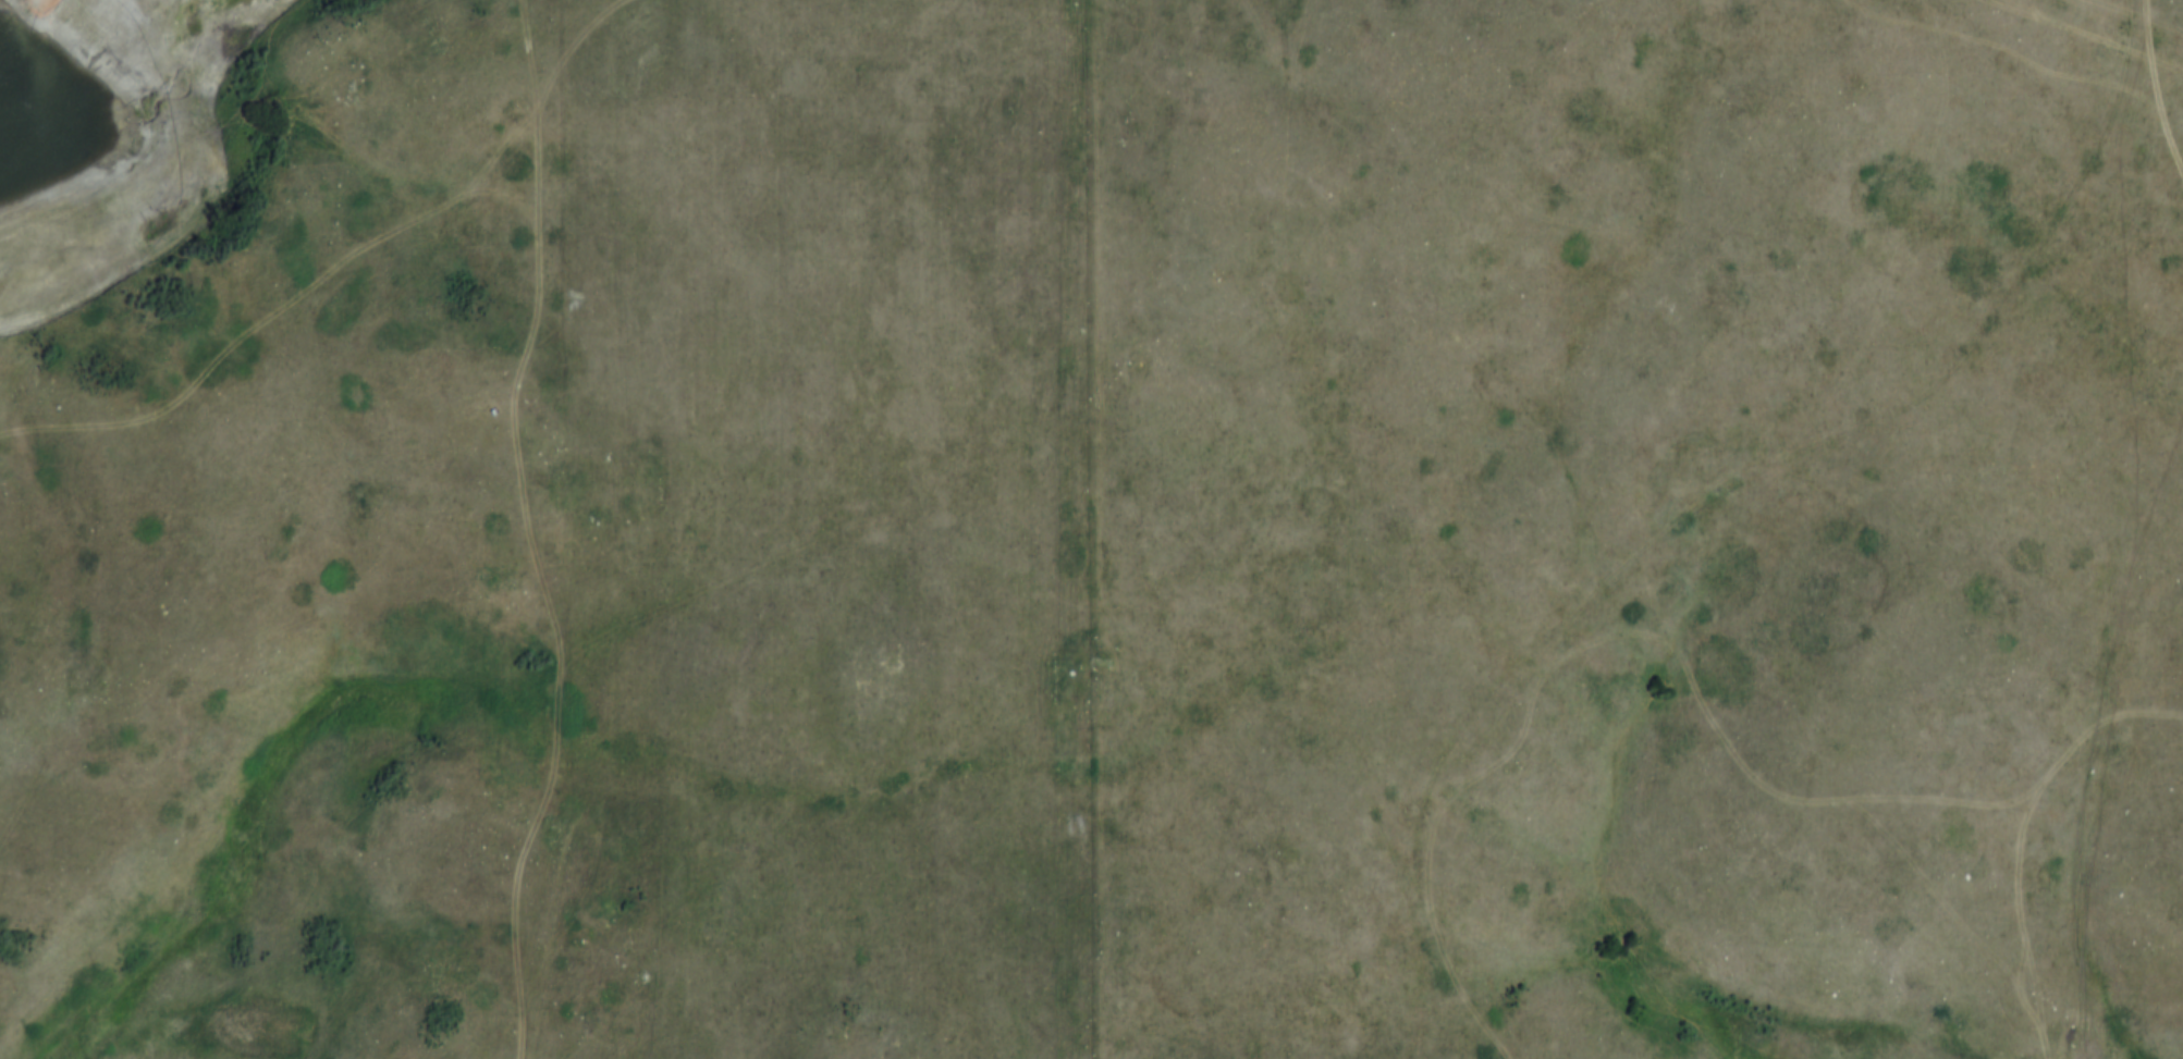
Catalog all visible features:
road: (536, 530)

